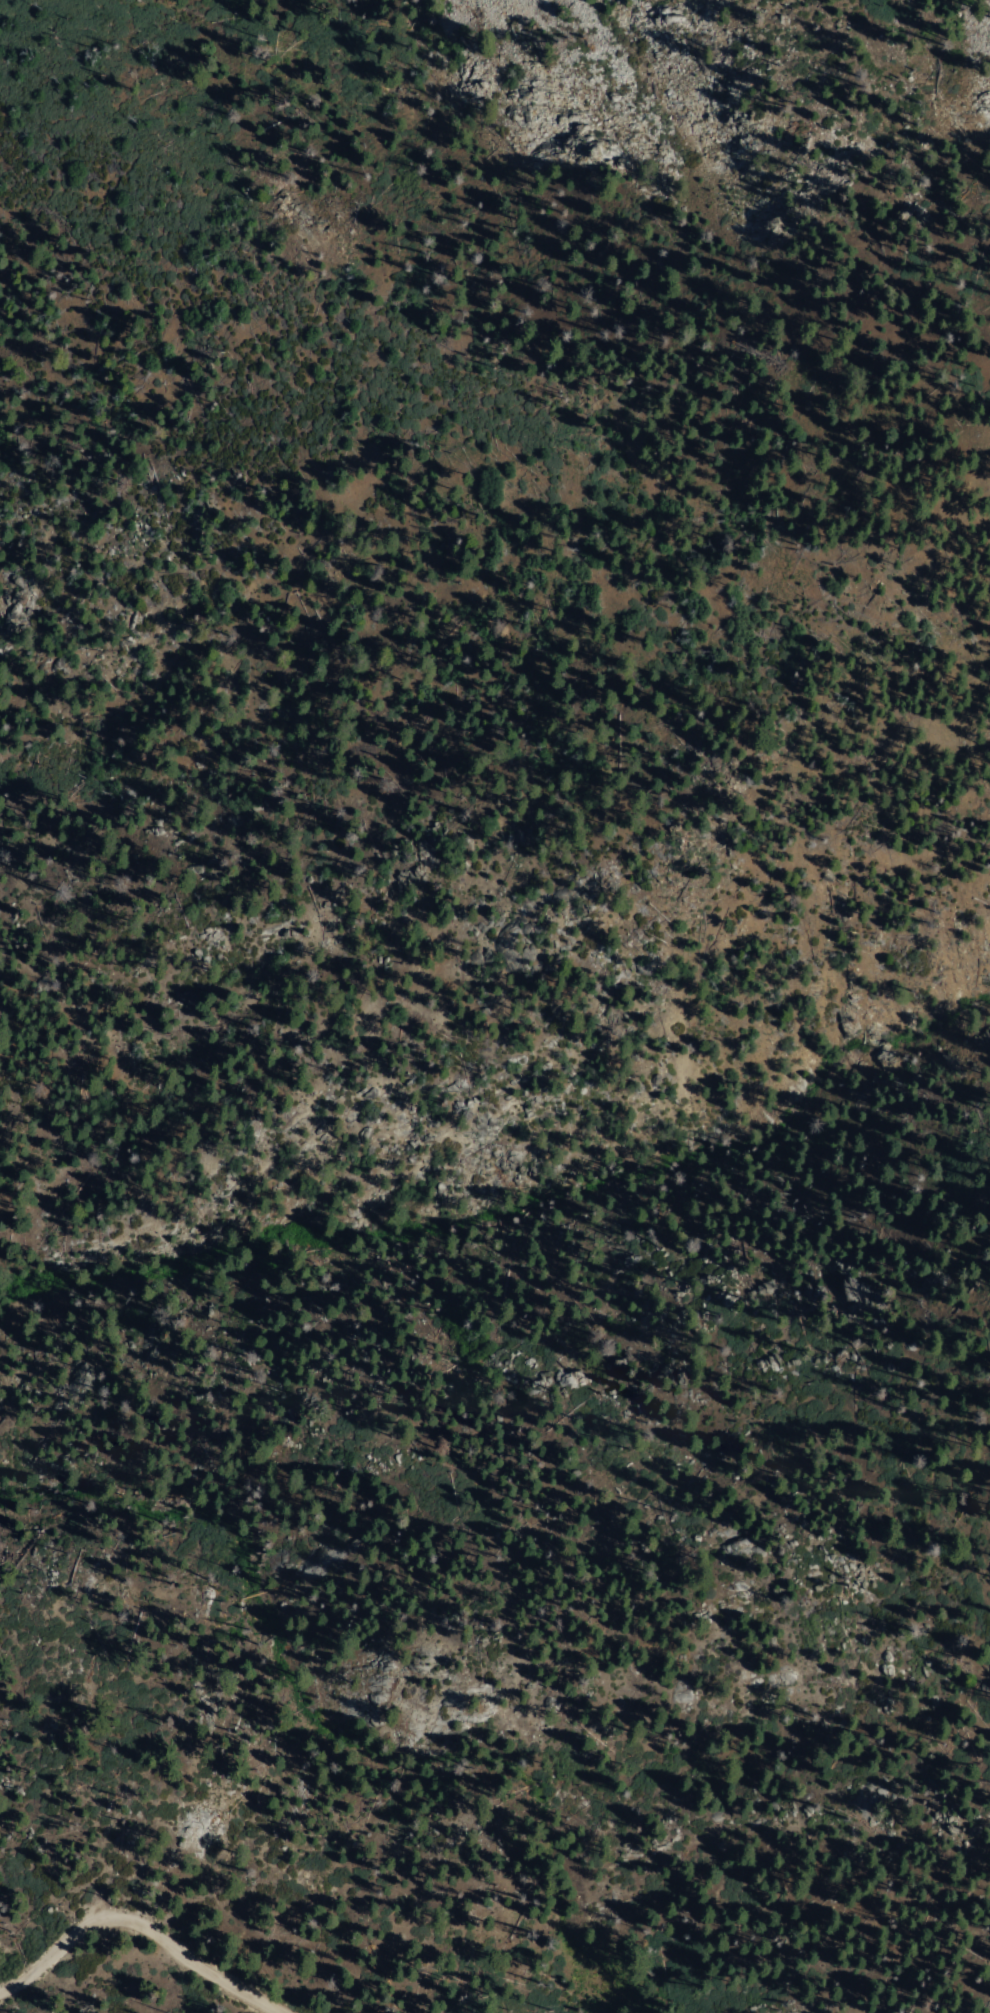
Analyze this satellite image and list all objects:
road: (146, 1927)

